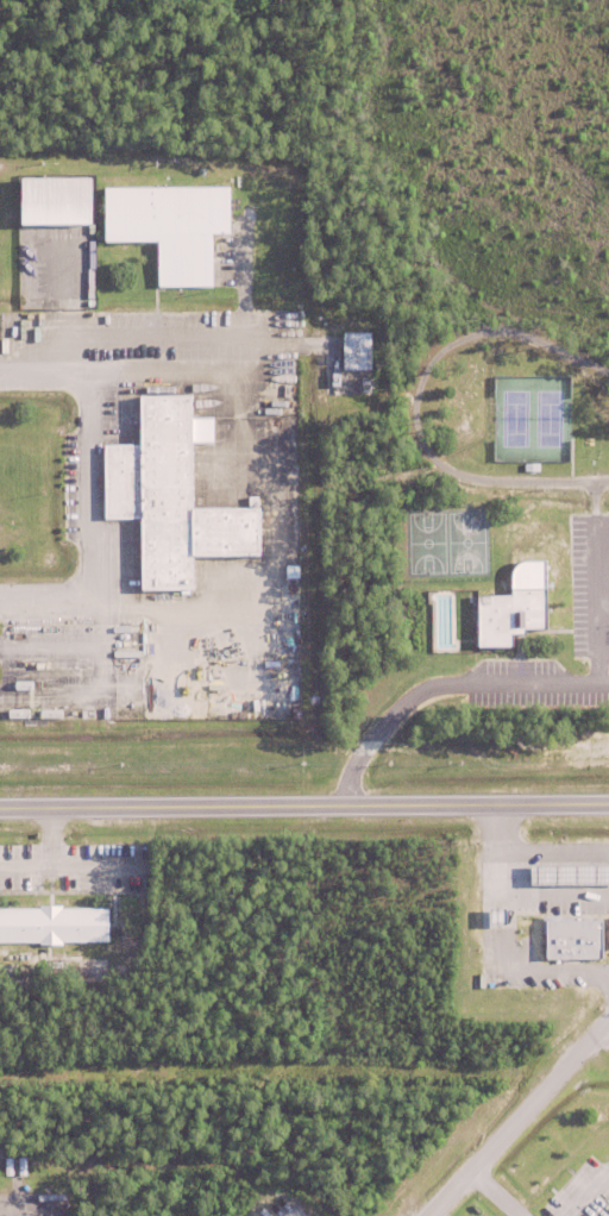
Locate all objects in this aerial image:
building: (65, 200)
building: (167, 225)
building: (357, 356)
road: (413, 403)
road: (88, 488)
building: (168, 496)
road: (594, 583)
building: (506, 618)
road: (445, 691)
road: (304, 806)
gas station: (564, 872)
building: (55, 923)
building: (565, 936)
road: (608, 1022)
road: (519, 1117)
building: (17, 1166)
building: (55, 1173)
building: (42, 1176)
road: (585, 1191)
road: (497, 1193)

